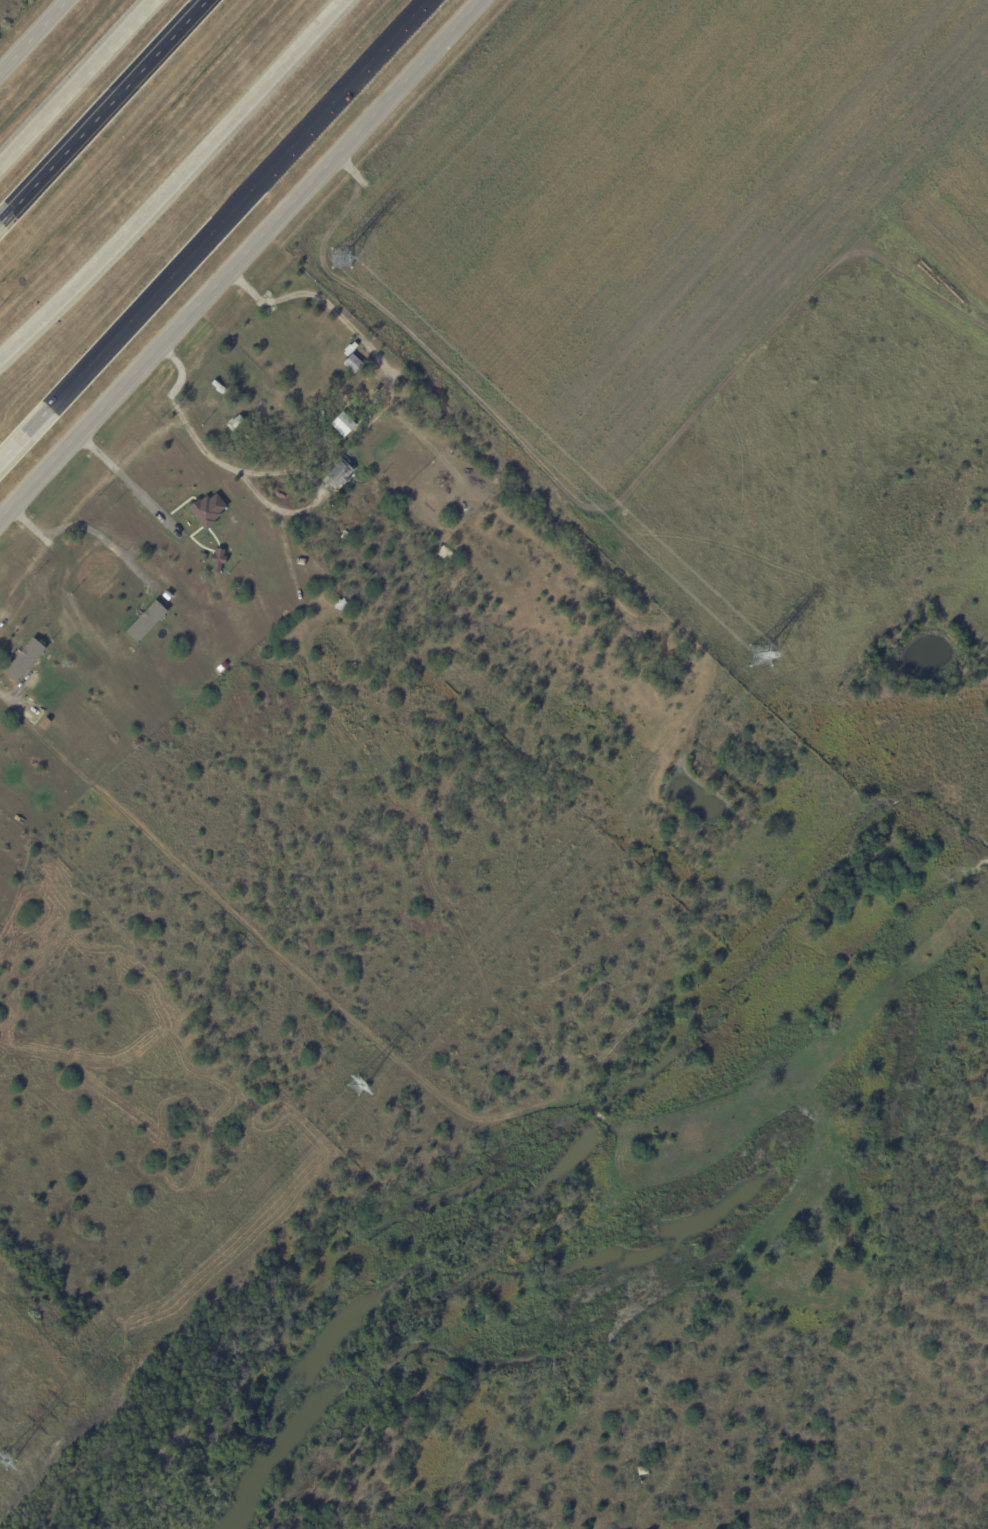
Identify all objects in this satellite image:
road: (31, 34)
road: (76, 81)
road: (103, 111)
road: (176, 181)
road: (226, 215)
road: (239, 259)
power tower: (334, 259)
building: (210, 396)
building: (366, 397)
building: (375, 400)
building: (323, 415)
building: (342, 423)
road: (13, 447)
building: (339, 474)
road: (126, 484)
building: (205, 508)
road: (89, 525)
building: (343, 533)
building: (443, 553)
building: (144, 620)
building: (31, 652)
power tower: (751, 653)
road: (3, 697)
power tower: (351, 1084)
building: (642, 1470)

